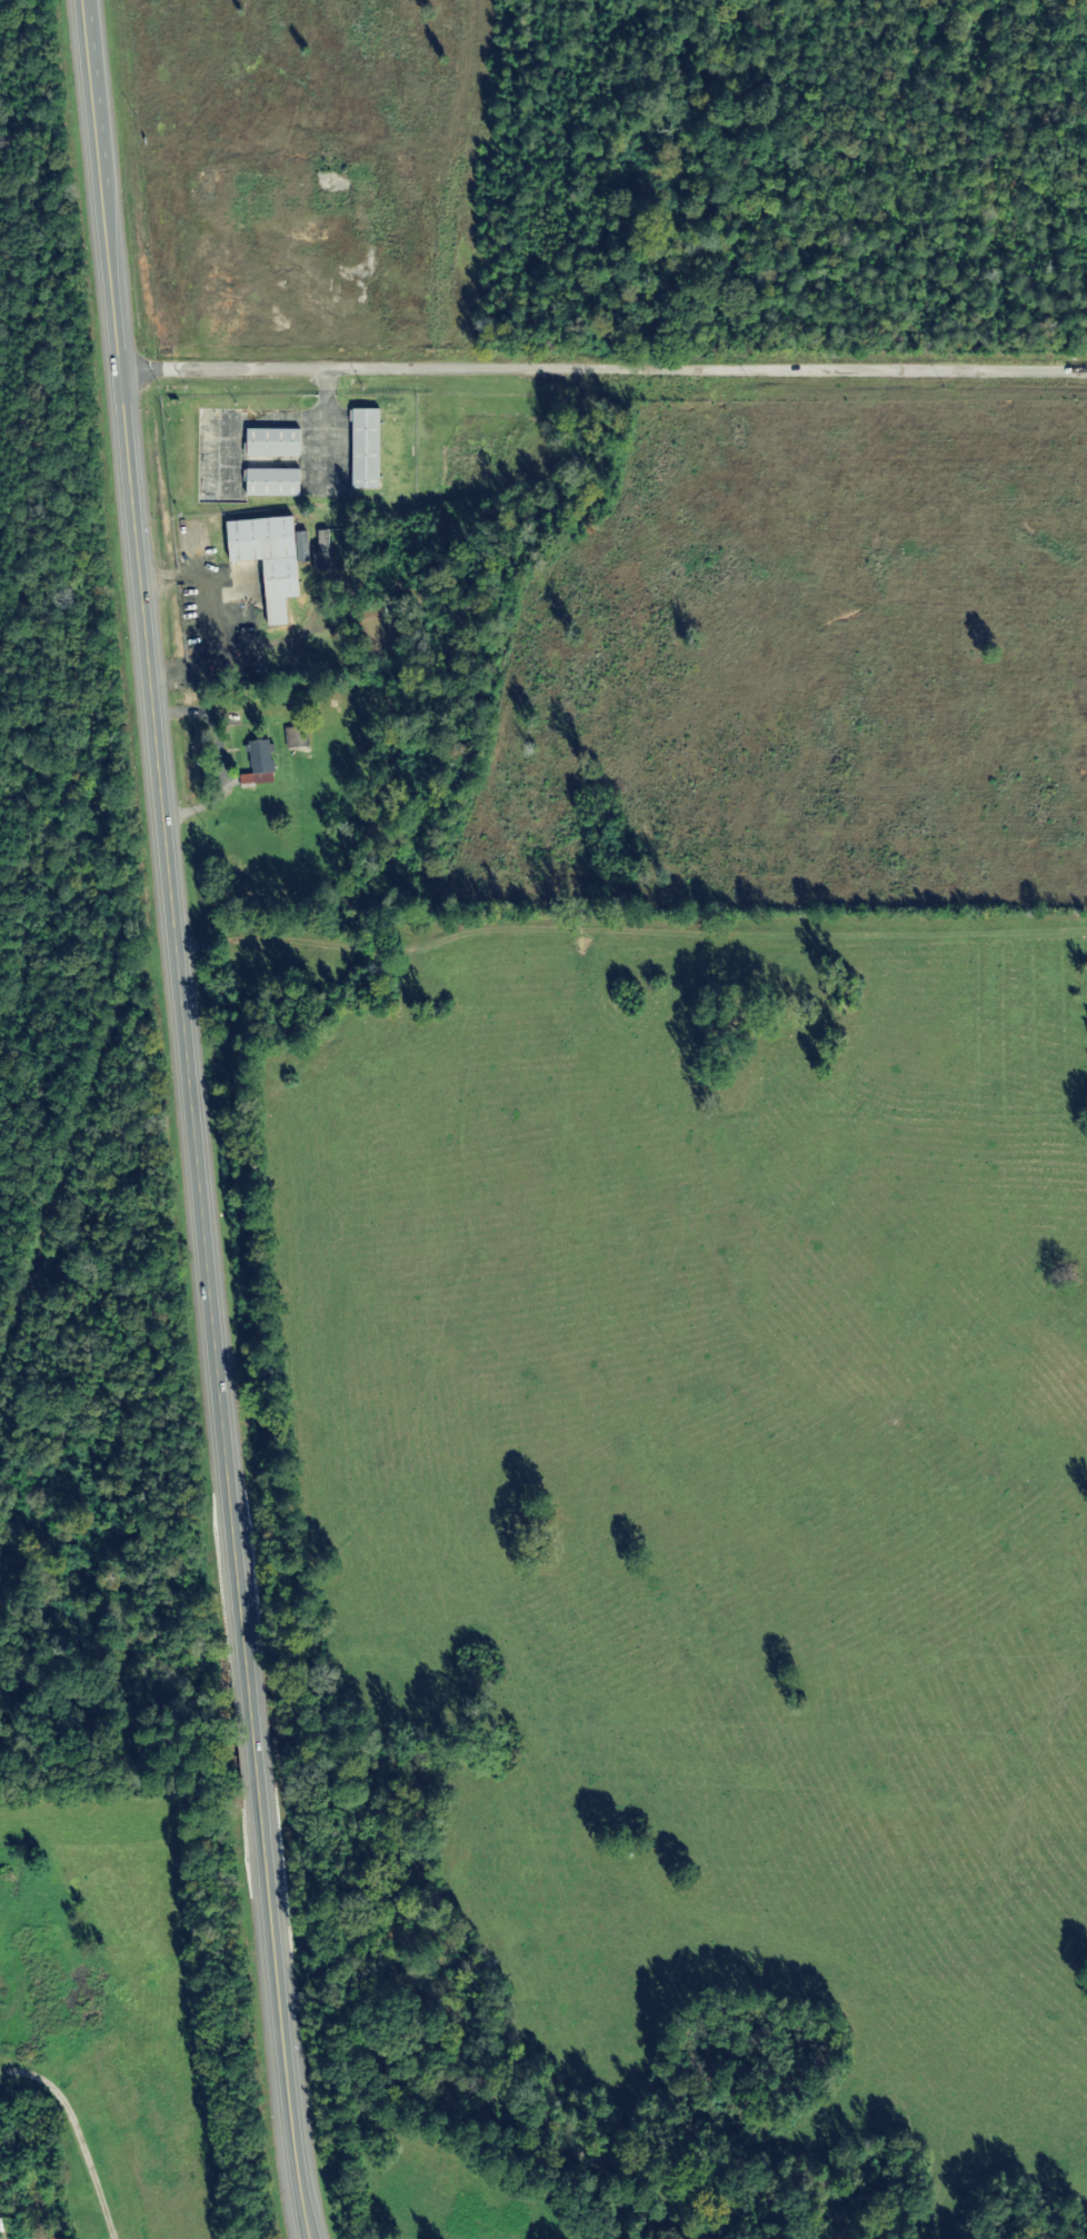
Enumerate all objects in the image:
road: (604, 369)
building: (261, 551)
building: (292, 736)
building: (255, 763)
road: (629, 939)
road: (191, 1121)
building: (33, 2237)

